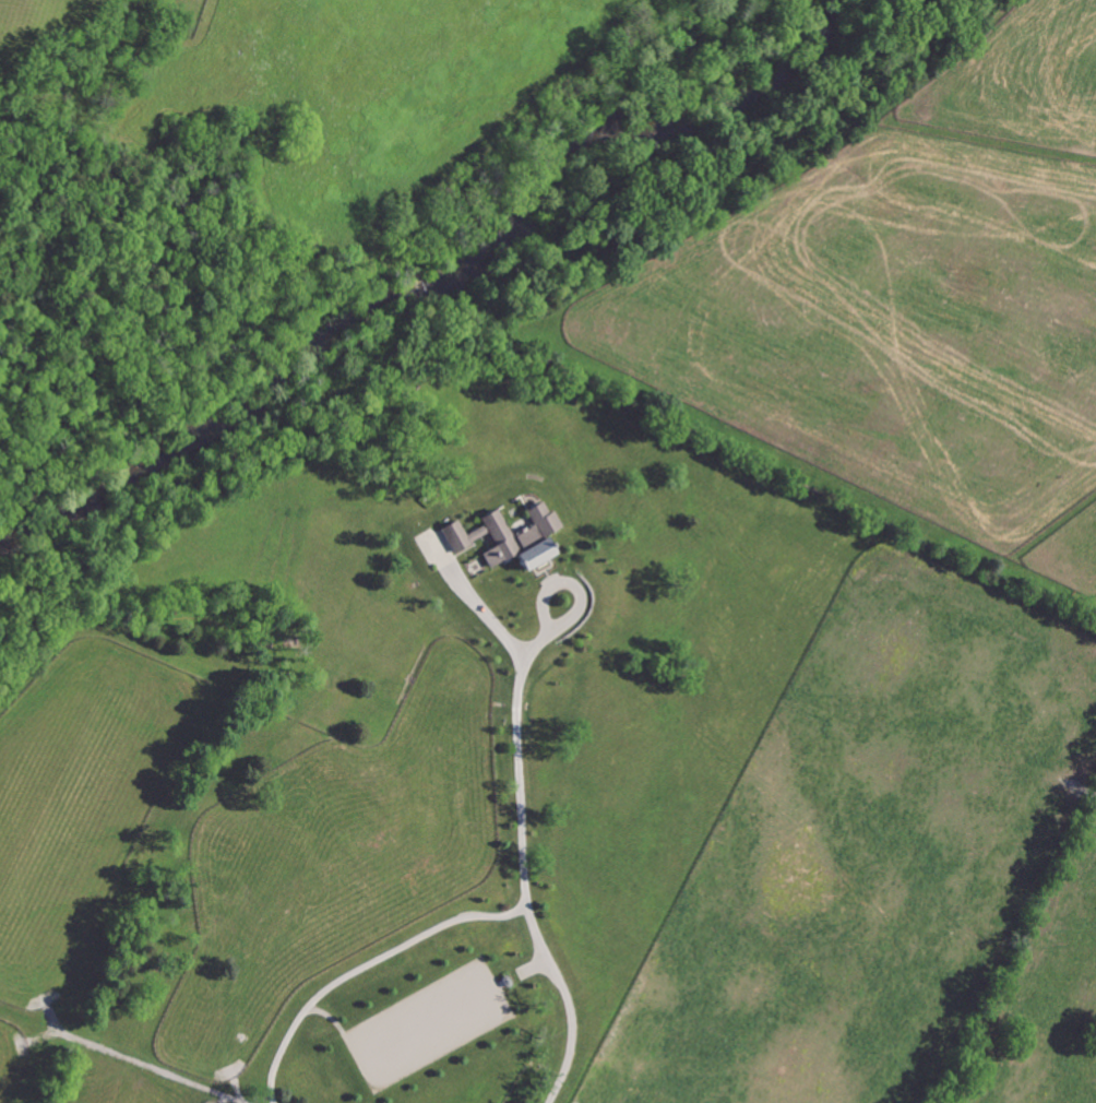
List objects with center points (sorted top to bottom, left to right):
building: (461, 536)
building: (522, 538)
road: (484, 613)
road: (523, 853)
road: (365, 966)

